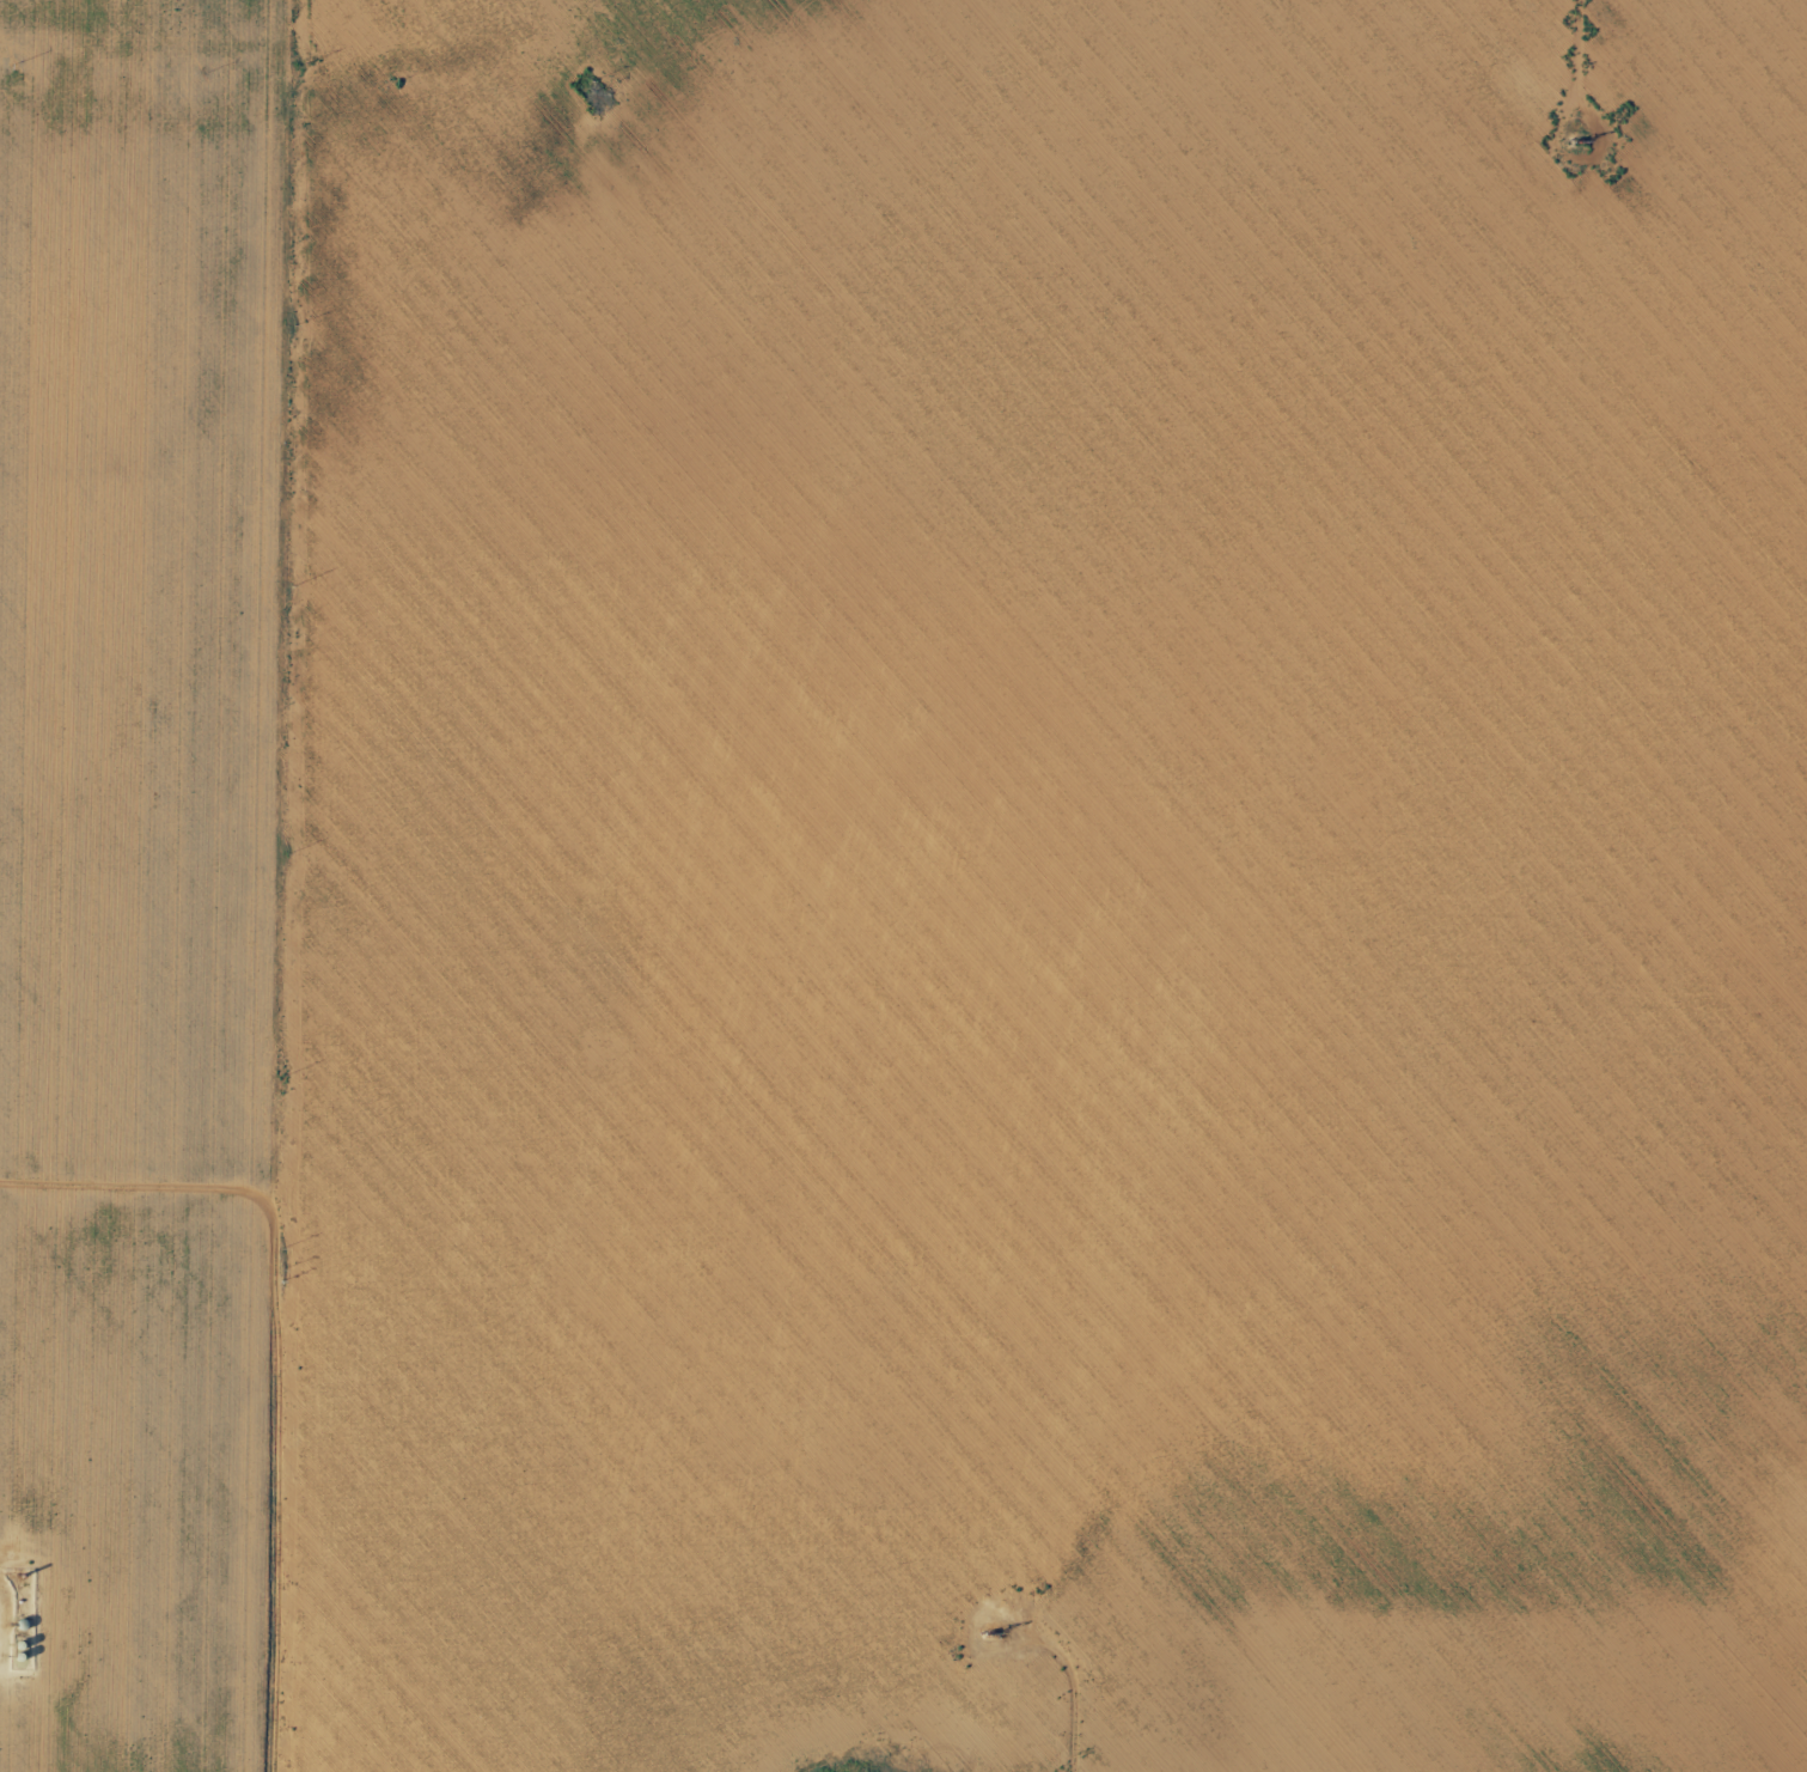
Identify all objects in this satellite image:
road: (255, 885)
road: (126, 1260)

